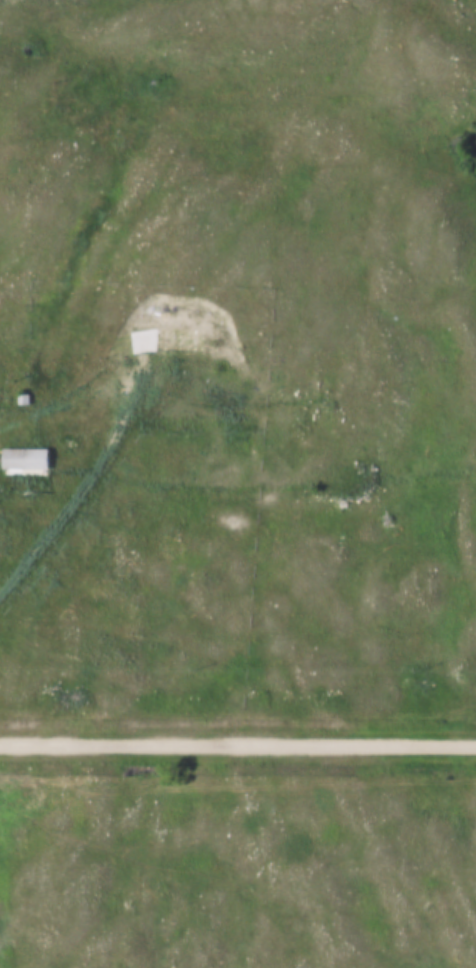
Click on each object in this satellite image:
building: (167, 341)
building: (27, 461)
road: (238, 740)

